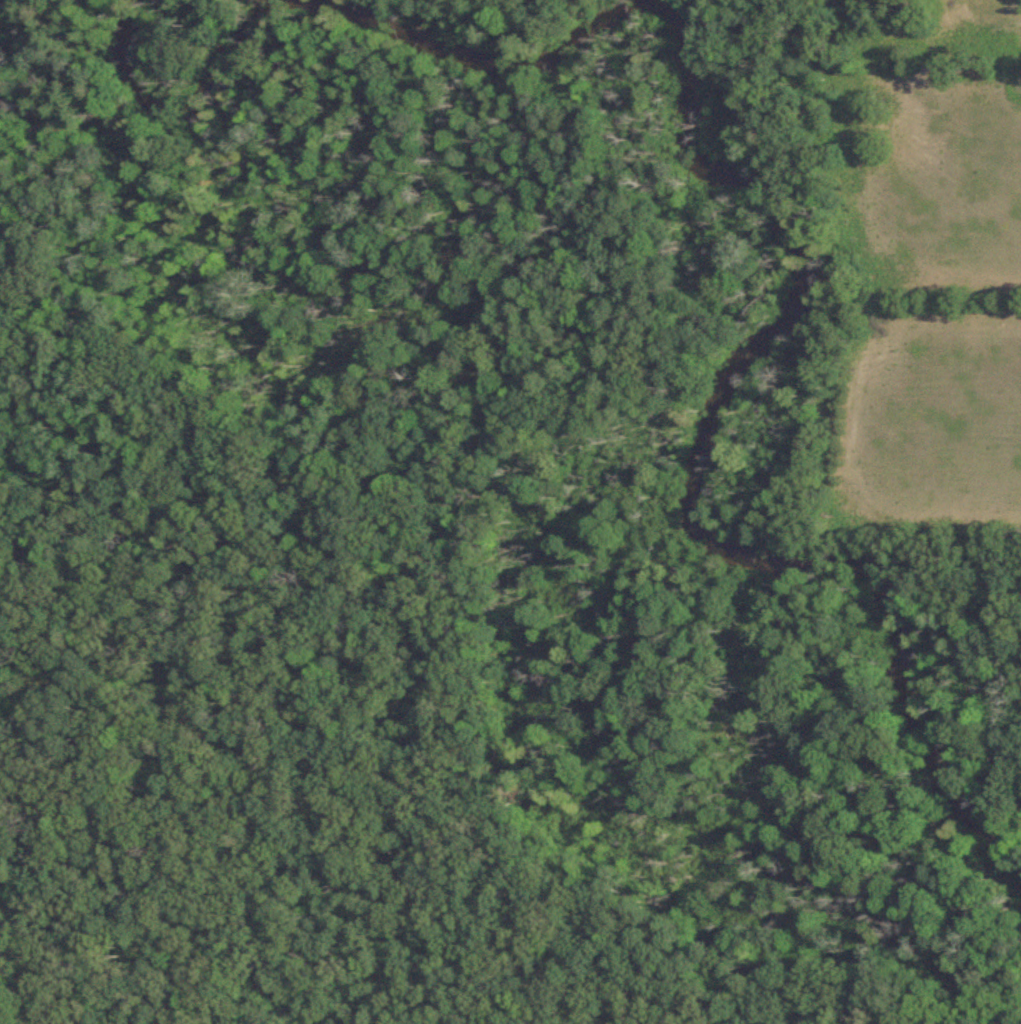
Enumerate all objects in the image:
river: (481, 59)
river: (185, 109)
river: (703, 453)

